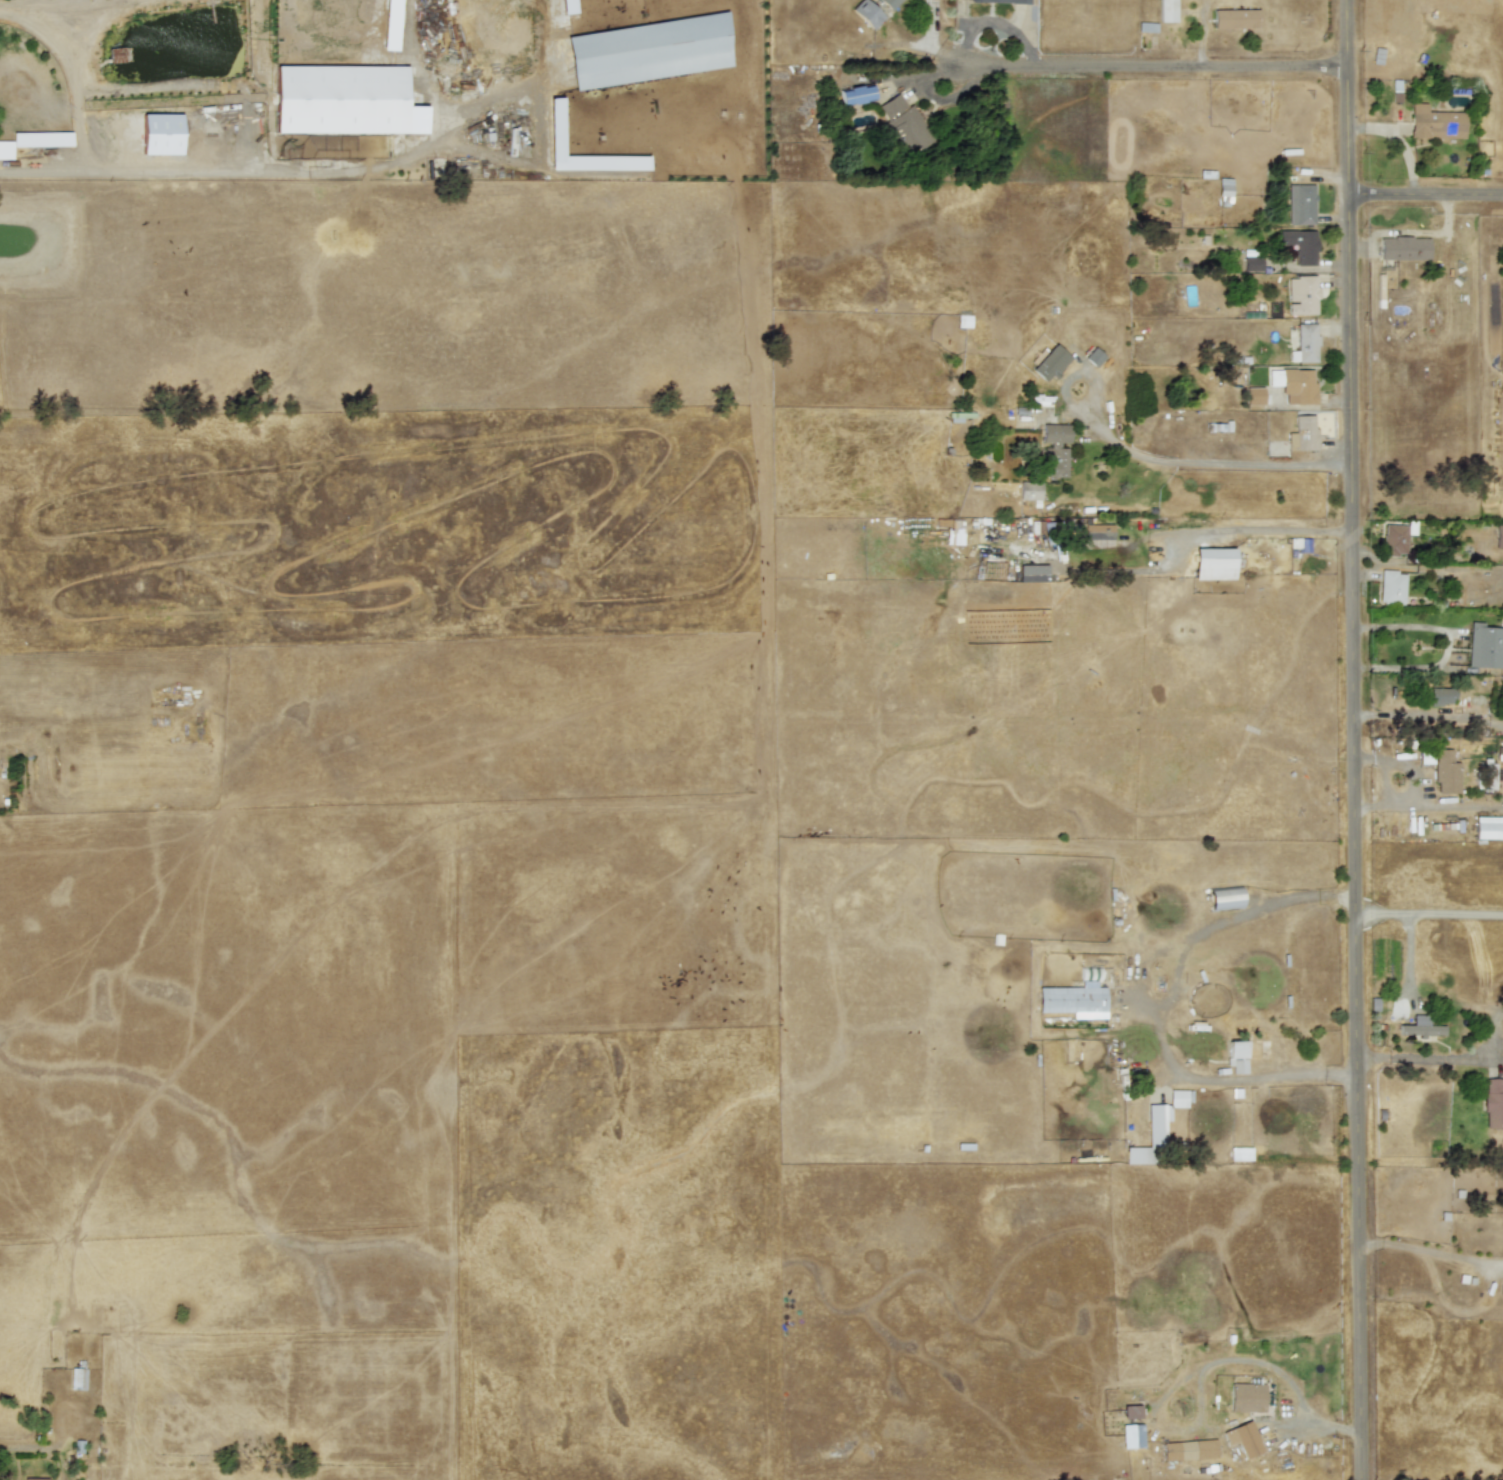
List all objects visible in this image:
building: (1002, 1)
building: (889, 3)
building: (566, 6)
building: (1167, 10)
building: (866, 13)
building: (1235, 19)
building: (390, 25)
road: (931, 41)
building: (648, 50)
road: (1155, 72)
road: (76, 73)
building: (856, 95)
building: (345, 100)
building: (1434, 122)
building: (555, 126)
building: (902, 126)
building: (169, 129)
building: (41, 138)
building: (5, 150)
road: (164, 175)
building: (1224, 191)
road: (1427, 196)
building: (1300, 204)
building: (1300, 245)
building: (1404, 248)
building: (1251, 260)
building: (1301, 295)
building: (1306, 342)
building: (1094, 357)
building: (1050, 363)
building: (1294, 384)
building: (1254, 396)
building: (1302, 434)
building: (1054, 449)
road: (1159, 459)
building: (1029, 490)
road: (1240, 528)
building: (1098, 532)
building: (1498, 536)
building: (1395, 540)
road: (1365, 553)
building: (1213, 564)
road: (1424, 566)
road: (1365, 569)
building: (1032, 573)
building: (1391, 587)
road: (1443, 643)
building: (1485, 645)
building: (1441, 696)
road: (1430, 714)
road: (1357, 739)
building: (1446, 772)
building: (1488, 776)
building: (1489, 826)
building: (1225, 898)
road: (1430, 915)
building: (1090, 973)
building: (1071, 999)
road: (1142, 999)
building: (1419, 1027)
building: (1236, 1056)
road: (1444, 1056)
building: (1178, 1098)
building: (1493, 1103)
building: (1161, 1120)
building: (77, 1378)
building: (1246, 1397)
building: (1130, 1413)
building: (1132, 1436)
building: (1243, 1439)
road: (24, 1448)
building: (1189, 1450)
building: (34, 1478)

